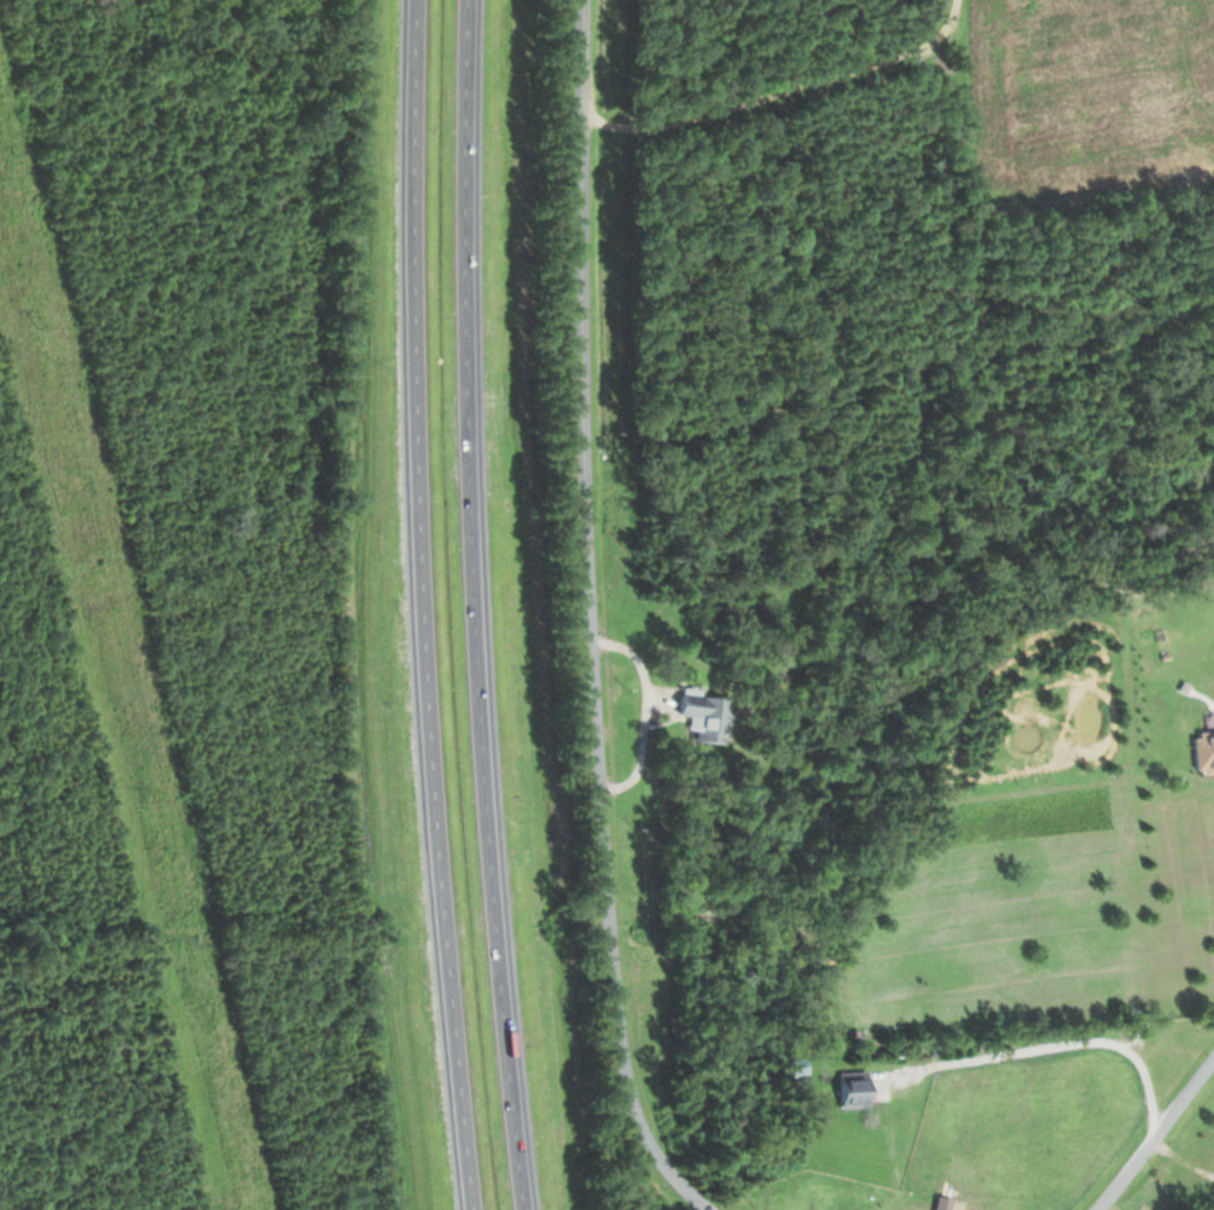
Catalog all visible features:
power tower: (41, 326)
road: (424, 605)
road: (474, 605)
road: (590, 618)
road: (645, 710)
building: (701, 714)
building: (1202, 751)
power tower: (151, 796)
road: (1082, 1042)
building: (849, 1089)
road: (1155, 1133)
road: (1182, 1156)

